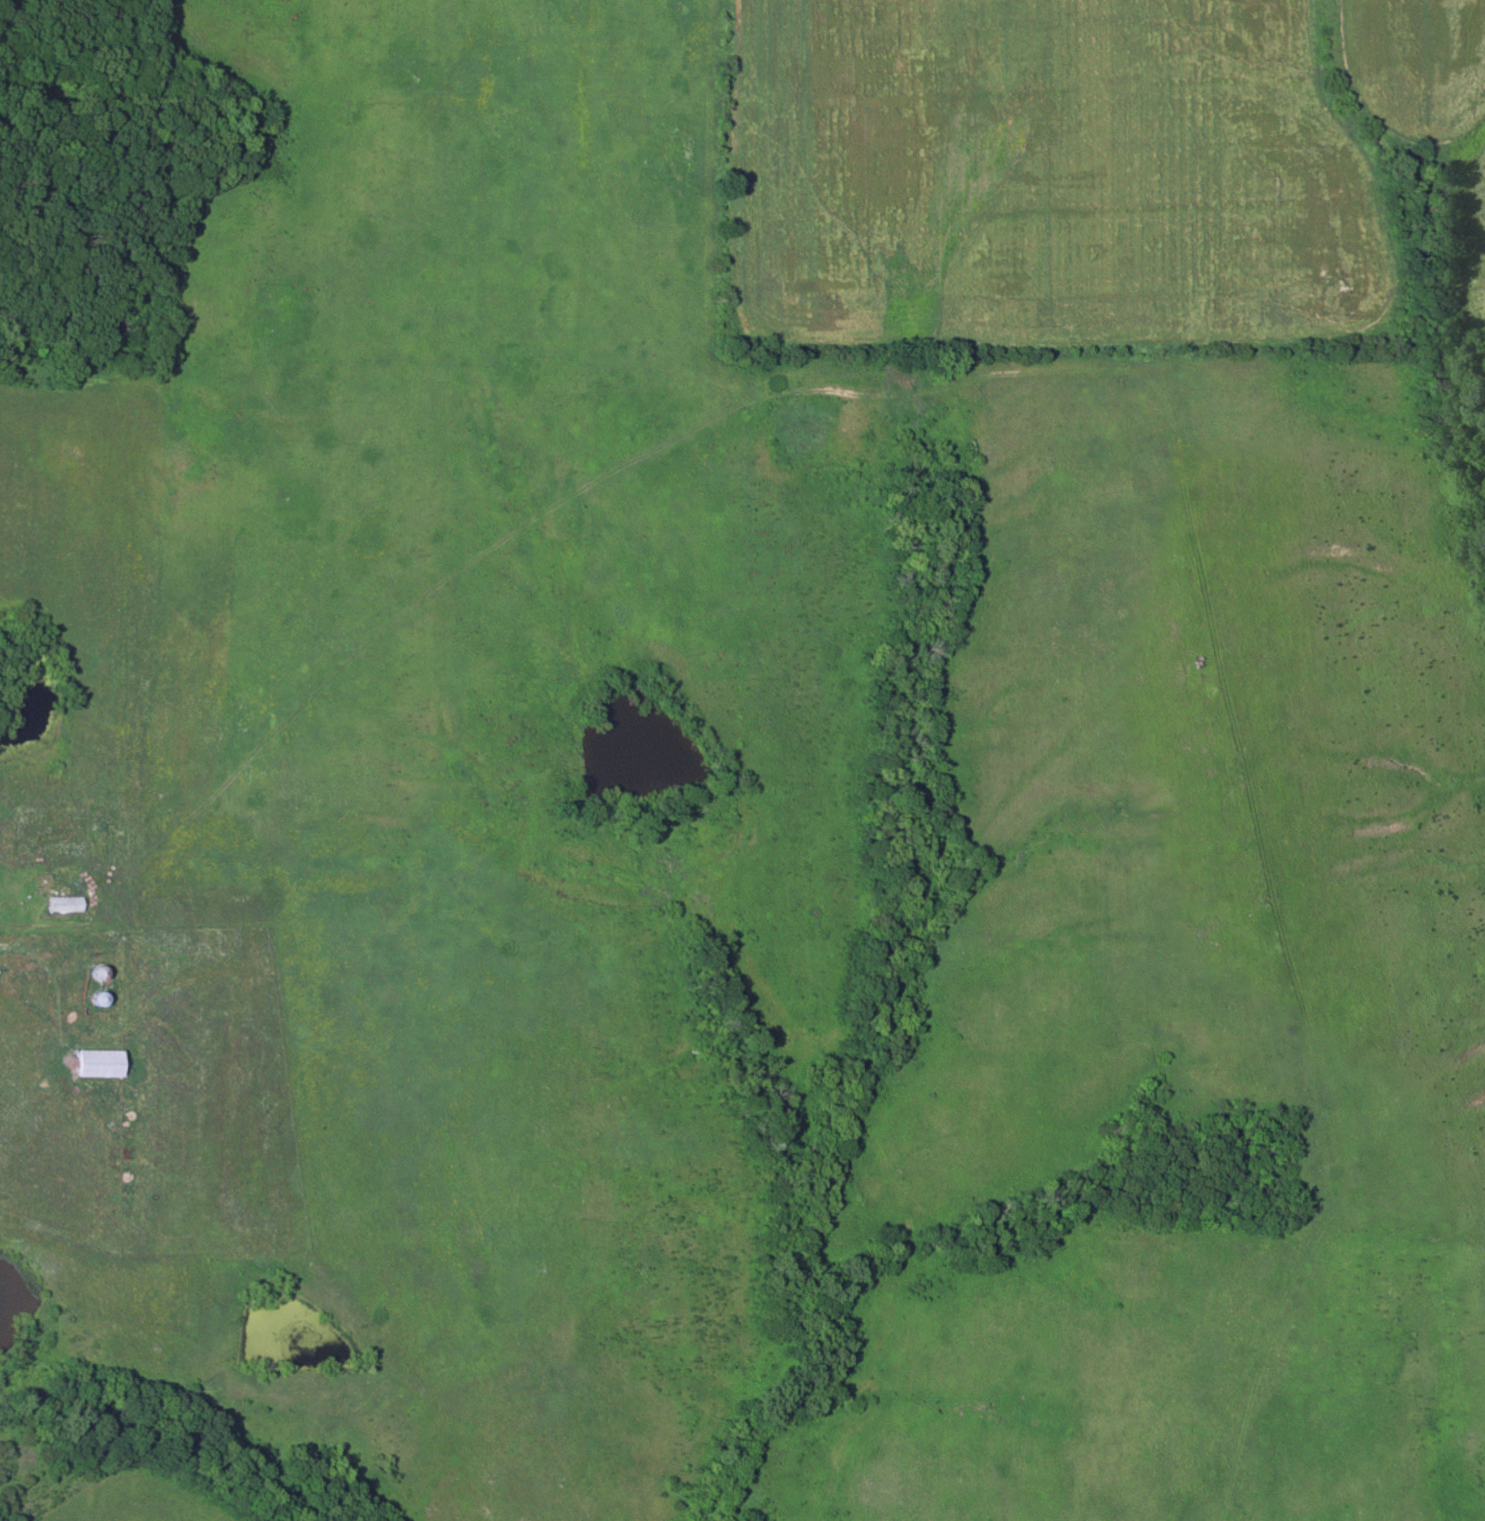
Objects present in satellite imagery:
building: (7, 856)
building: (61, 906)
building: (96, 974)

